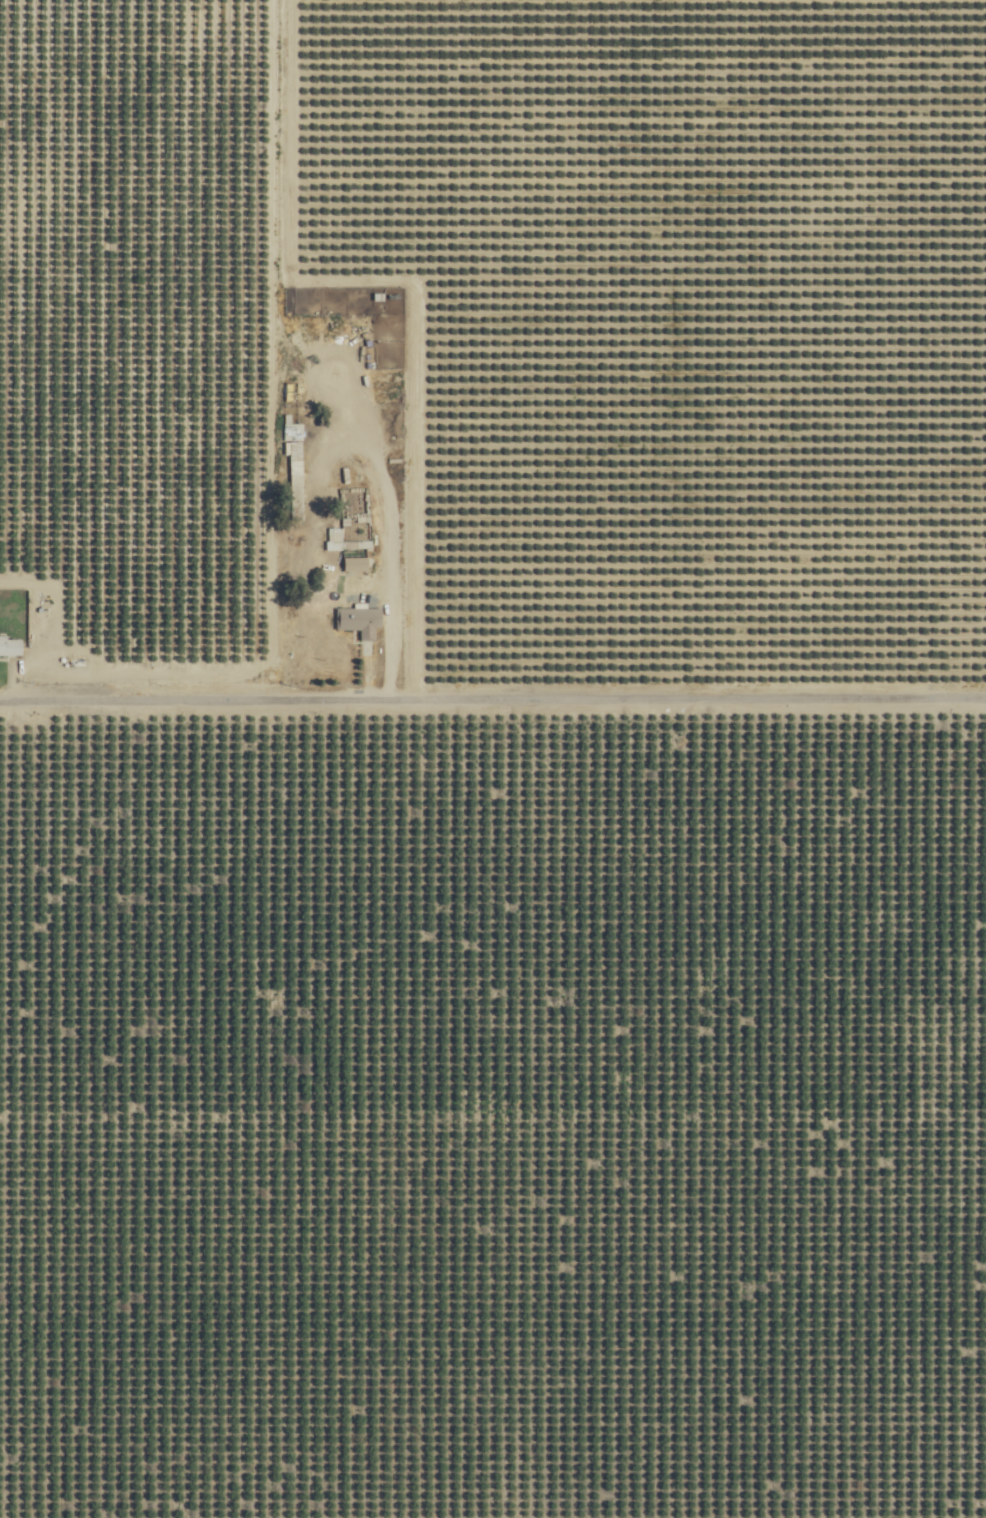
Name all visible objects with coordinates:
building: (297, 479)
building: (334, 537)
building: (361, 618)
building: (11, 644)
road: (493, 693)
crop: (558, 836)

